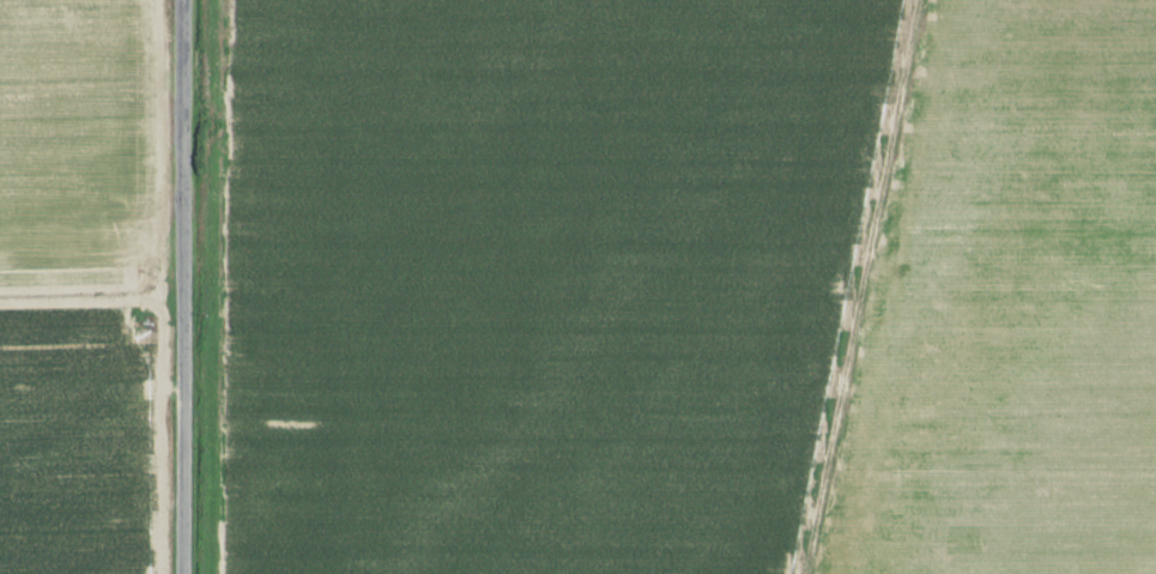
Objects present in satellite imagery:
road: (182, 286)
road: (877, 286)
road: (91, 429)

